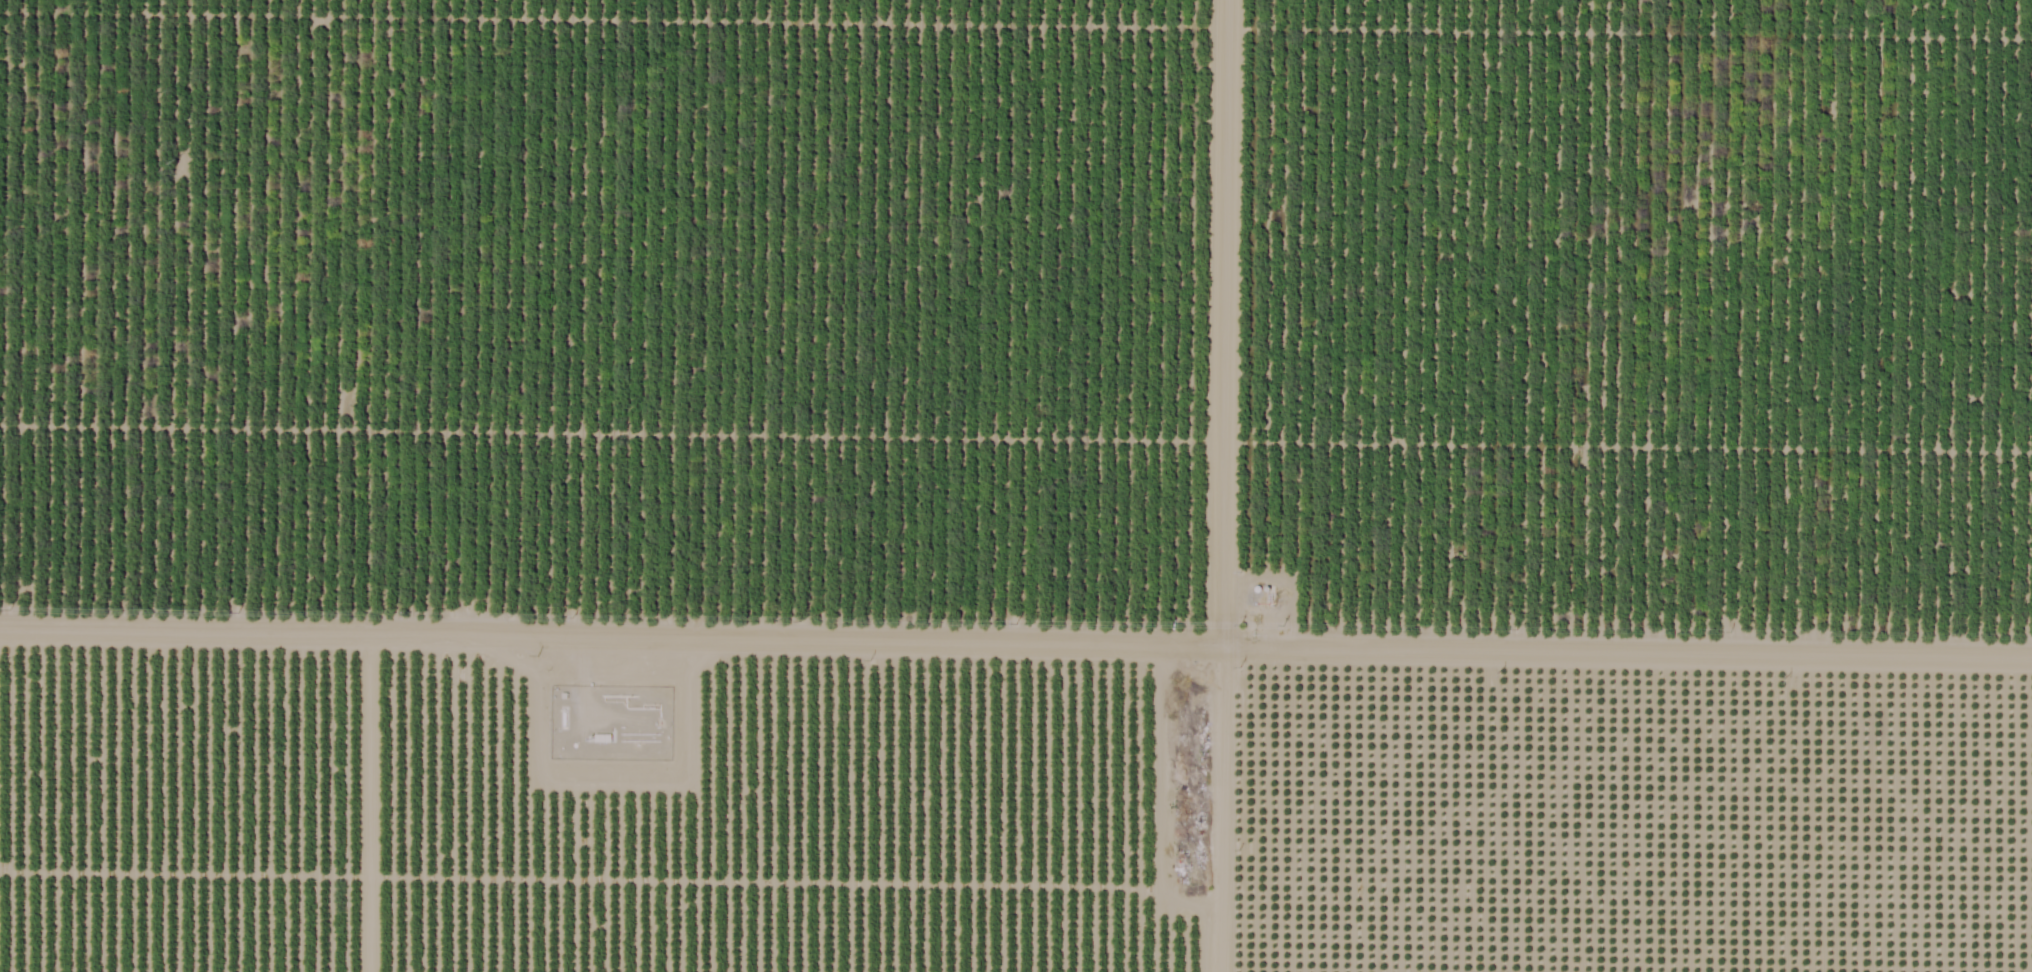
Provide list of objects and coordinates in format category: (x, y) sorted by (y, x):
road: (194, 345)
road: (1249, 486)
road: (1015, 621)

